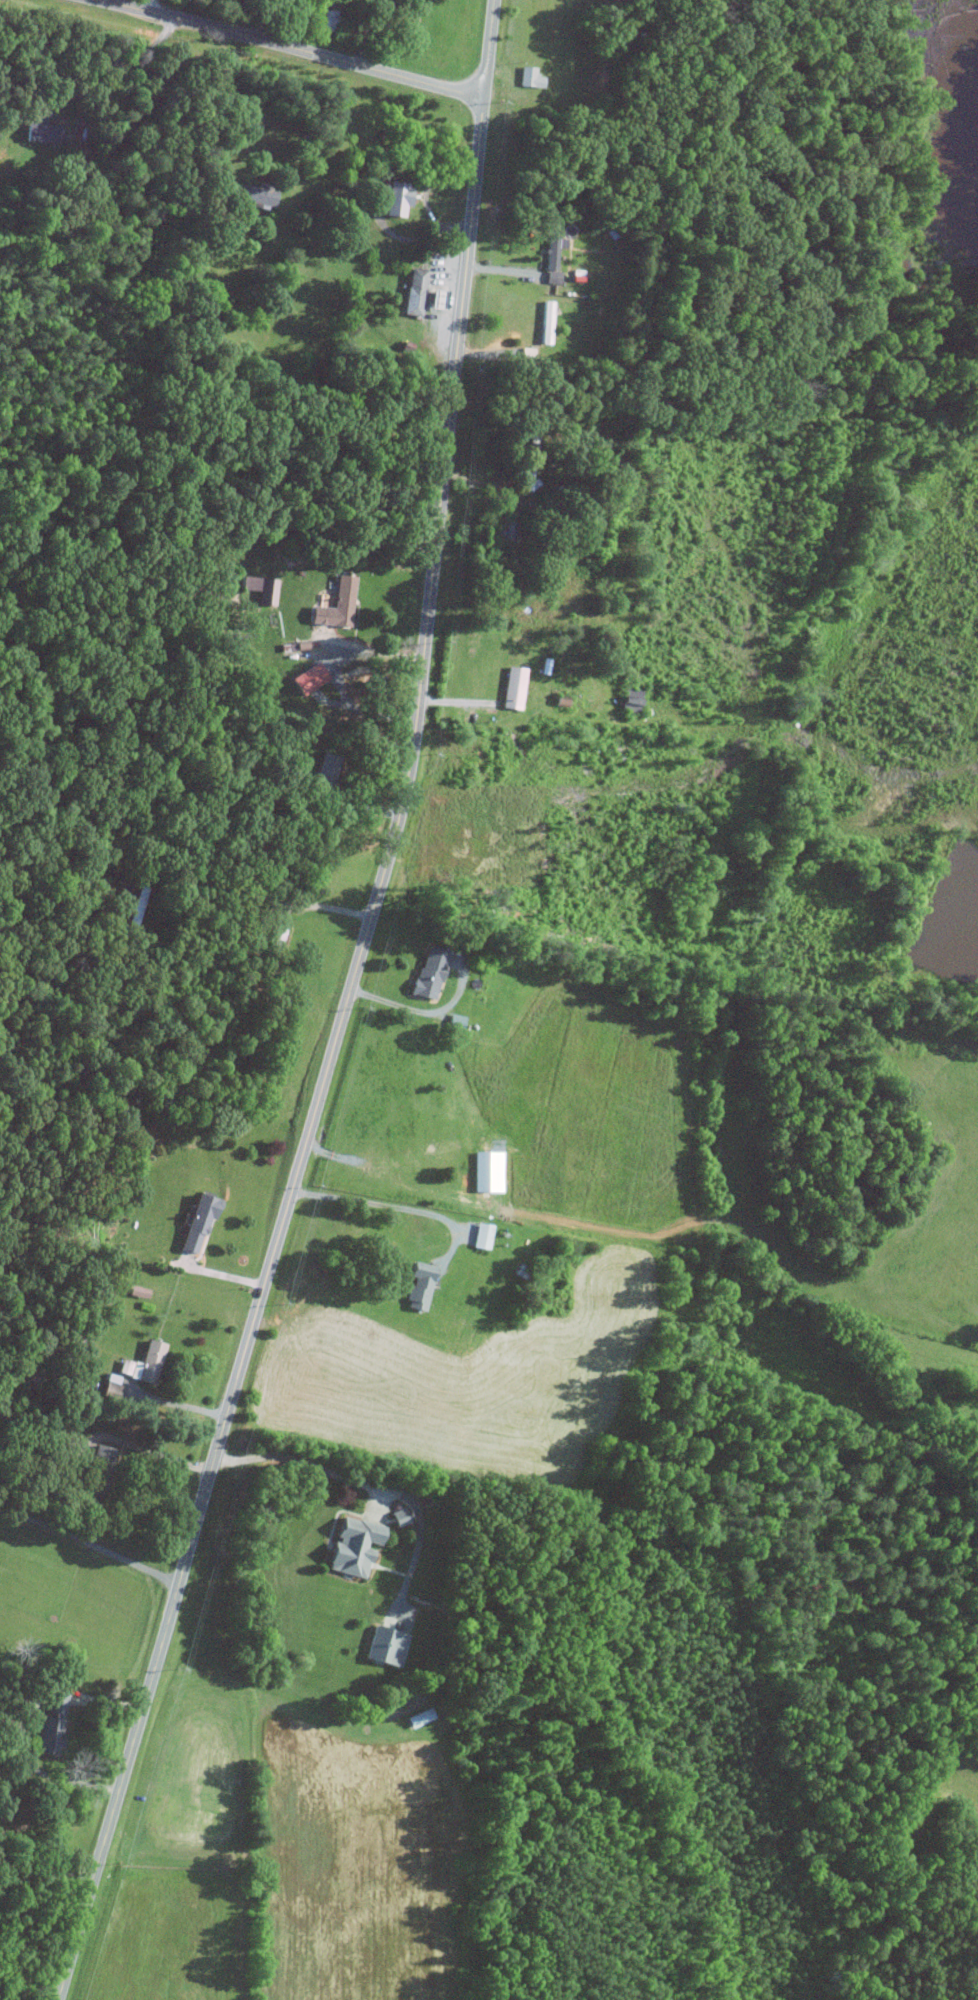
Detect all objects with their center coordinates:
road: (264, 19)
building: (327, 20)
road: (370, 32)
road: (289, 46)
road: (489, 49)
road: (117, 74)
building: (528, 78)
road: (234, 92)
building: (39, 131)
building: (254, 195)
building: (395, 200)
building: (550, 256)
building: (412, 292)
building: (433, 299)
building: (545, 325)
road: (489, 487)
building: (260, 590)
building: (334, 605)
road: (369, 653)
building: (305, 679)
building: (511, 688)
building: (629, 701)
road: (366, 709)
building: (323, 769)
road: (260, 899)
building: (131, 910)
building: (427, 971)
road: (425, 1011)
road: (328, 1061)
building: (486, 1171)
road: (394, 1206)
building: (195, 1221)
building: (480, 1235)
building: (417, 1285)
building: (135, 1291)
building: (141, 1363)
building: (109, 1386)
road: (173, 1403)
road: (92, 1438)
road: (366, 1483)
building: (397, 1517)
road: (90, 1543)
building: (350, 1546)
building: (384, 1646)
building: (416, 1719)
road: (24, 1721)
building: (49, 1724)

